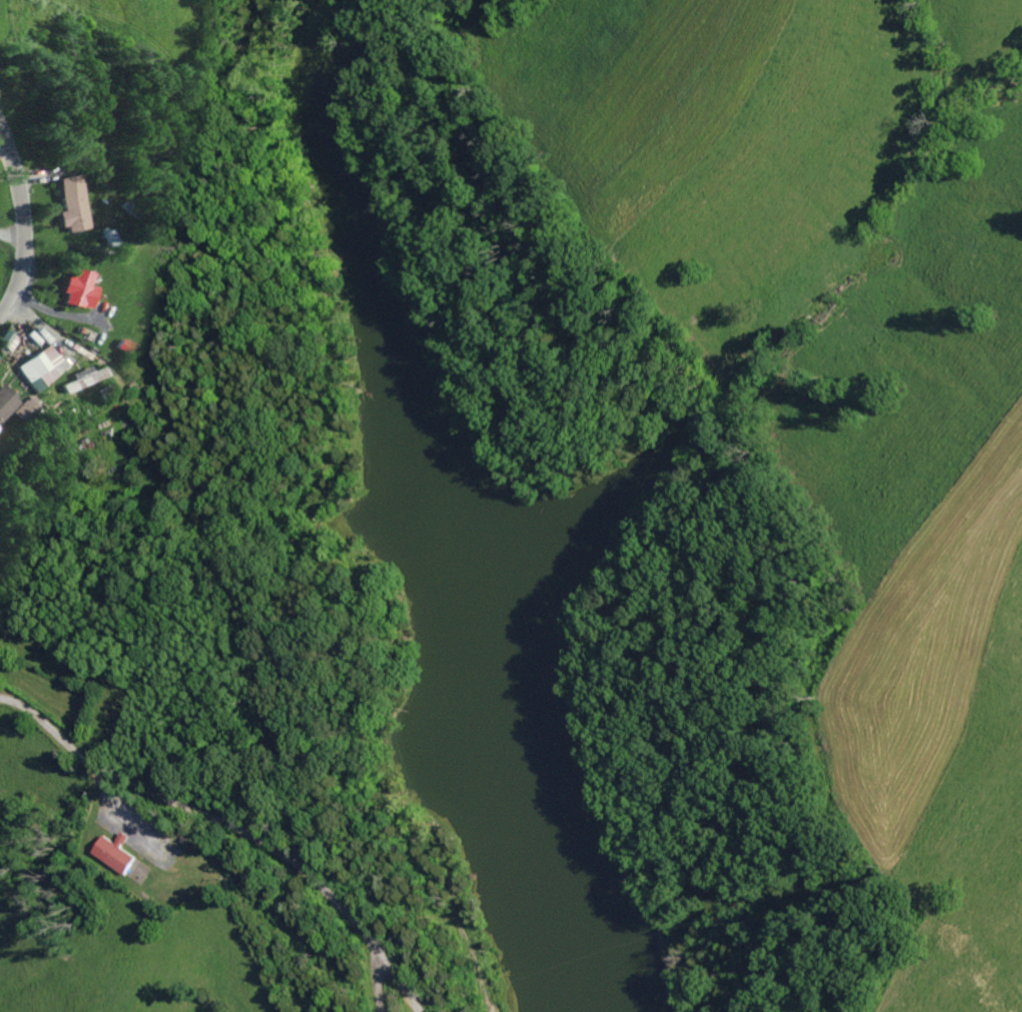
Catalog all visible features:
building: (67, 201)
road: (8, 238)
building: (77, 287)
building: (8, 337)
building: (44, 366)
building: (86, 376)
building: (7, 401)
building: (27, 406)
road: (246, 530)
road: (226, 828)
building: (117, 852)
road: (735, 976)

